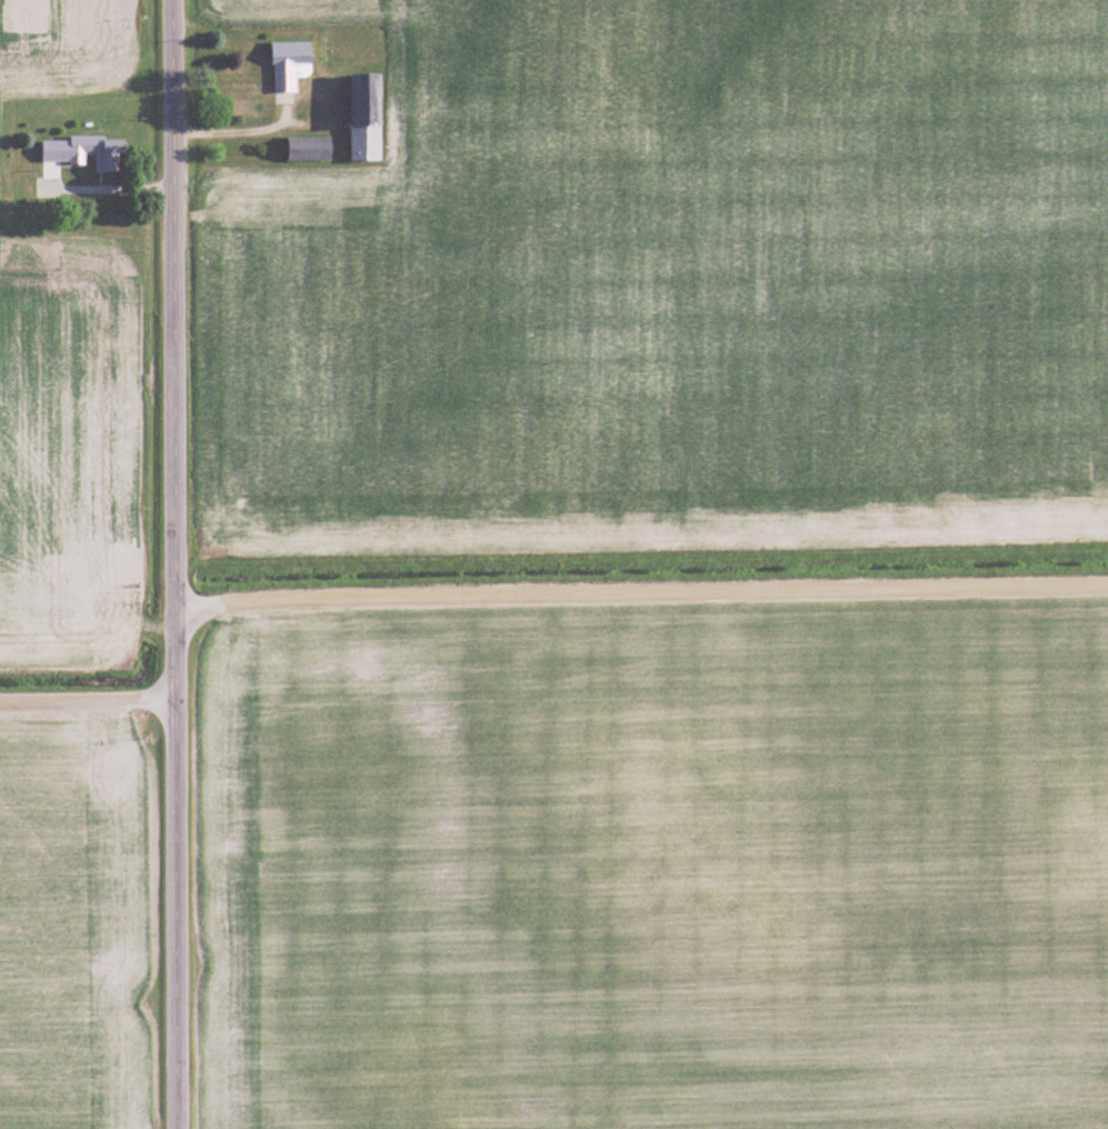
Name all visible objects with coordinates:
building: (289, 66)
building: (367, 119)
road: (226, 130)
building: (309, 149)
building: (86, 152)
road: (111, 187)
road: (173, 563)
road: (640, 592)
road: (88, 702)

